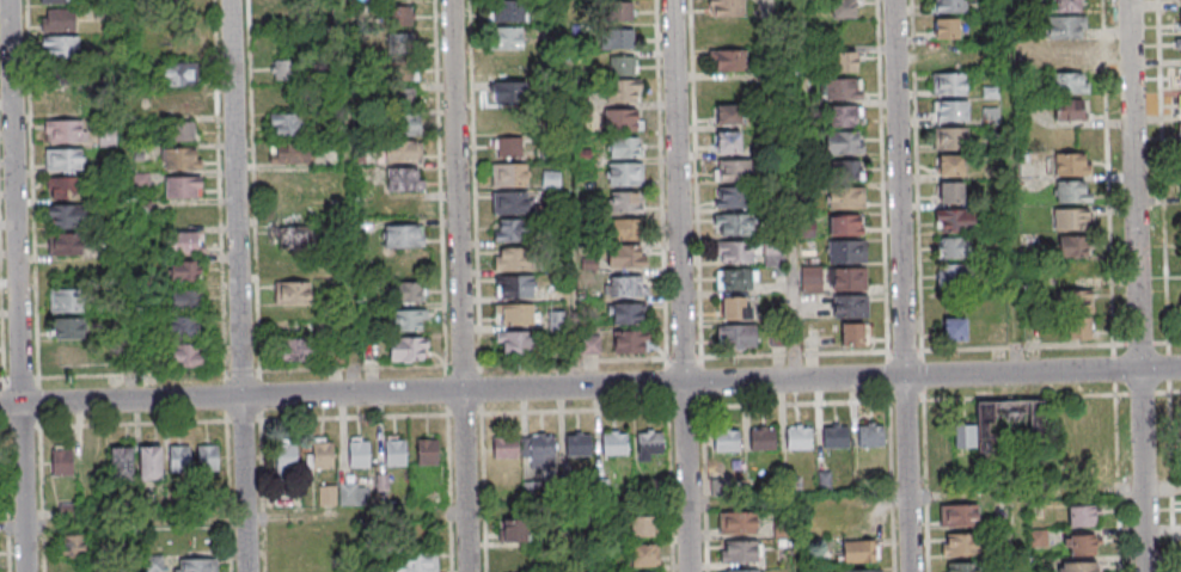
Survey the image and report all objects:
building: (57, 1)
building: (1179, 1)
building: (953, 5)
building: (1065, 5)
building: (724, 7)
building: (843, 8)
building: (507, 11)
building: (622, 11)
building: (287, 16)
building: (399, 16)
building: (59, 19)
building: (1180, 20)
building: (1066, 26)
building: (944, 27)
building: (507, 38)
building: (623, 38)
building: (399, 43)
building: (60, 48)
building: (1177, 48)
building: (1066, 55)
building: (729, 60)
building: (845, 61)
building: (624, 64)
building: (287, 69)
building: (400, 73)
building: (179, 74)
building: (1180, 76)
building: (948, 84)
building: (1070, 84)
building: (840, 88)
building: (625, 91)
building: (507, 92)
building: (1180, 104)
building: (951, 110)
building: (1070, 111)
building: (727, 113)
building: (844, 115)
building: (623, 119)
building: (287, 124)
building: (405, 124)
building: (65, 130)
building: (180, 130)
building: (1179, 131)
building: (106, 137)
building: (950, 137)
building: (727, 141)
building: (844, 142)
building: (508, 147)
building: (625, 147)
building: (402, 152)
building: (288, 153)
building: (180, 158)
building: (63, 159)
building: (1180, 159)
building: (1071, 164)
building: (950, 165)
building: (732, 170)
building: (845, 170)
road: (1164, 172)
building: (509, 174)
building: (625, 174)
road: (885, 177)
building: (404, 179)
building: (141, 180)
building: (550, 180)
road: (443, 184)
building: (63, 186)
building: (182, 186)
road: (1021, 186)
road: (788, 190)
building: (950, 191)
building: (1072, 191)
road: (568, 193)
road: (348, 197)
building: (729, 197)
building: (845, 197)
road: (124, 201)
building: (626, 202)
building: (509, 203)
road: (477, 207)
building: (66, 215)
building: (1072, 219)
building: (954, 220)
building: (733, 223)
building: (845, 223)
building: (510, 229)
building: (625, 230)
building: (402, 235)
building: (289, 238)
building: (185, 242)
building: (65, 244)
building: (1072, 246)
building: (953, 247)
building: (846, 251)
building: (734, 252)
building: (772, 256)
building: (626, 257)
building: (510, 258)
building: (184, 271)
building: (953, 275)
building: (735, 278)
building: (810, 278)
building: (847, 278)
road: (16, 285)
road: (235, 285)
road: (463, 285)
building: (514, 285)
road: (683, 285)
road: (902, 285)
road: (1140, 285)
building: (626, 287)
building: (292, 293)
building: (405, 293)
building: (185, 299)
building: (63, 300)
building: (850, 306)
building: (734, 307)
building: (1076, 312)
building: (628, 313)
building: (514, 315)
building: (408, 321)
building: (183, 326)
building: (68, 327)
building: (954, 328)
building: (853, 333)
building: (736, 336)
building: (630, 340)
road: (1175, 343)
building: (513, 344)
building: (589, 345)
building: (296, 349)
road: (1016, 349)
building: (406, 350)
building: (71, 356)
building: (185, 356)
road: (354, 368)
road: (889, 377)
road: (590, 387)
road: (1175, 392)
road: (1167, 393)
road: (1072, 395)
road: (261, 396)
road: (853, 402)
building: (1001, 422)
building: (834, 435)
building: (870, 435)
building: (797, 436)
building: (763, 438)
building: (724, 439)
building: (613, 442)
building: (577, 444)
building: (649, 445)
building: (504, 447)
building: (427, 450)
building: (539, 450)
building: (396, 451)
building: (359, 453)
building: (286, 455)
building: (323, 455)
building: (178, 457)
building: (207, 457)
building: (61, 462)
building: (121, 462)
building: (149, 462)
road: (449, 469)
road: (1171, 481)
road: (1118, 484)
road: (892, 486)
road: (925, 486)
building: (720, 487)
road: (483, 493)
building: (326, 496)
building: (351, 496)
building: (281, 498)
road: (590, 503)
building: (957, 515)
building: (1081, 515)
building: (738, 522)
building: (641, 525)
building: (513, 530)
road: (1021, 530)
road: (798, 534)
road: (576, 537)
road: (351, 540)
road: (134, 545)
building: (960, 545)
building: (1081, 545)
building: (72, 546)
building: (740, 551)
building: (858, 552)
building: (642, 554)
building: (416, 561)
building: (154, 565)
building: (195, 565)
building: (1079, 566)
building: (960, 567)
building: (740, 571)
building: (861, 571)

